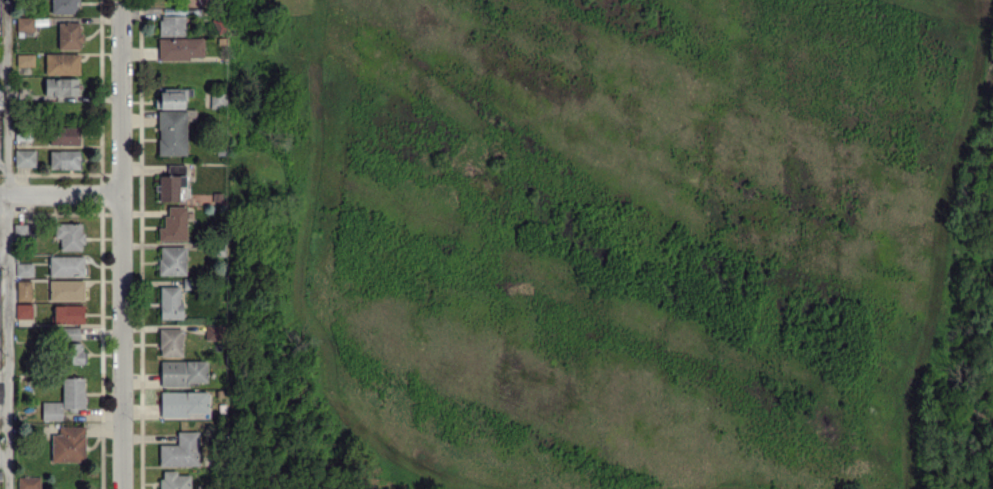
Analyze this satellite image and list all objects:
road: (61, 196)
road: (6, 244)
road: (122, 244)
road: (4, 414)
road: (4, 459)

